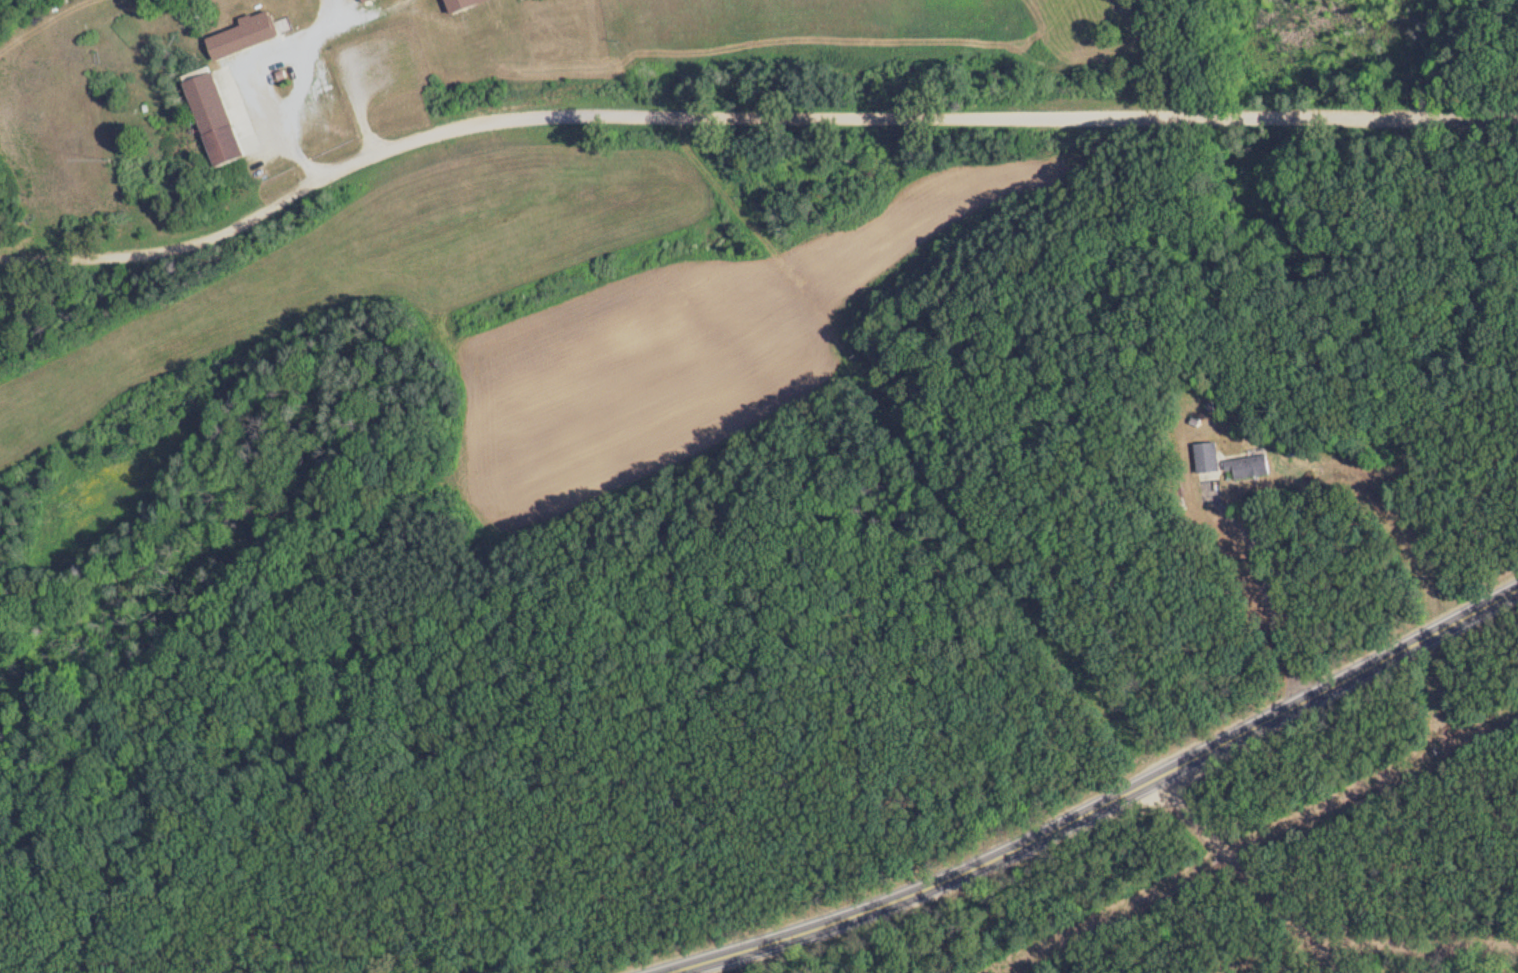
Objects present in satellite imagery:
building: (369, 0)
building: (466, 4)
road: (325, 15)
road: (364, 16)
road: (72, 35)
building: (247, 36)
road: (297, 108)
road: (743, 112)
building: (217, 119)
building: (1209, 456)
building: (1250, 466)
road: (1270, 598)
road: (1104, 807)
road: (1253, 875)
road: (1412, 943)

